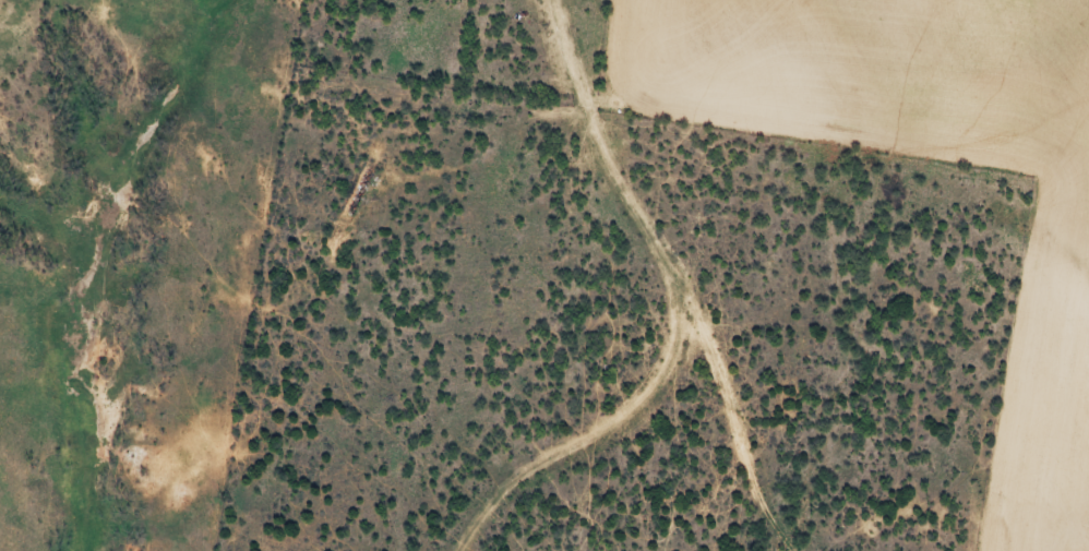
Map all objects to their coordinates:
road: (609, 152)
road: (642, 328)

